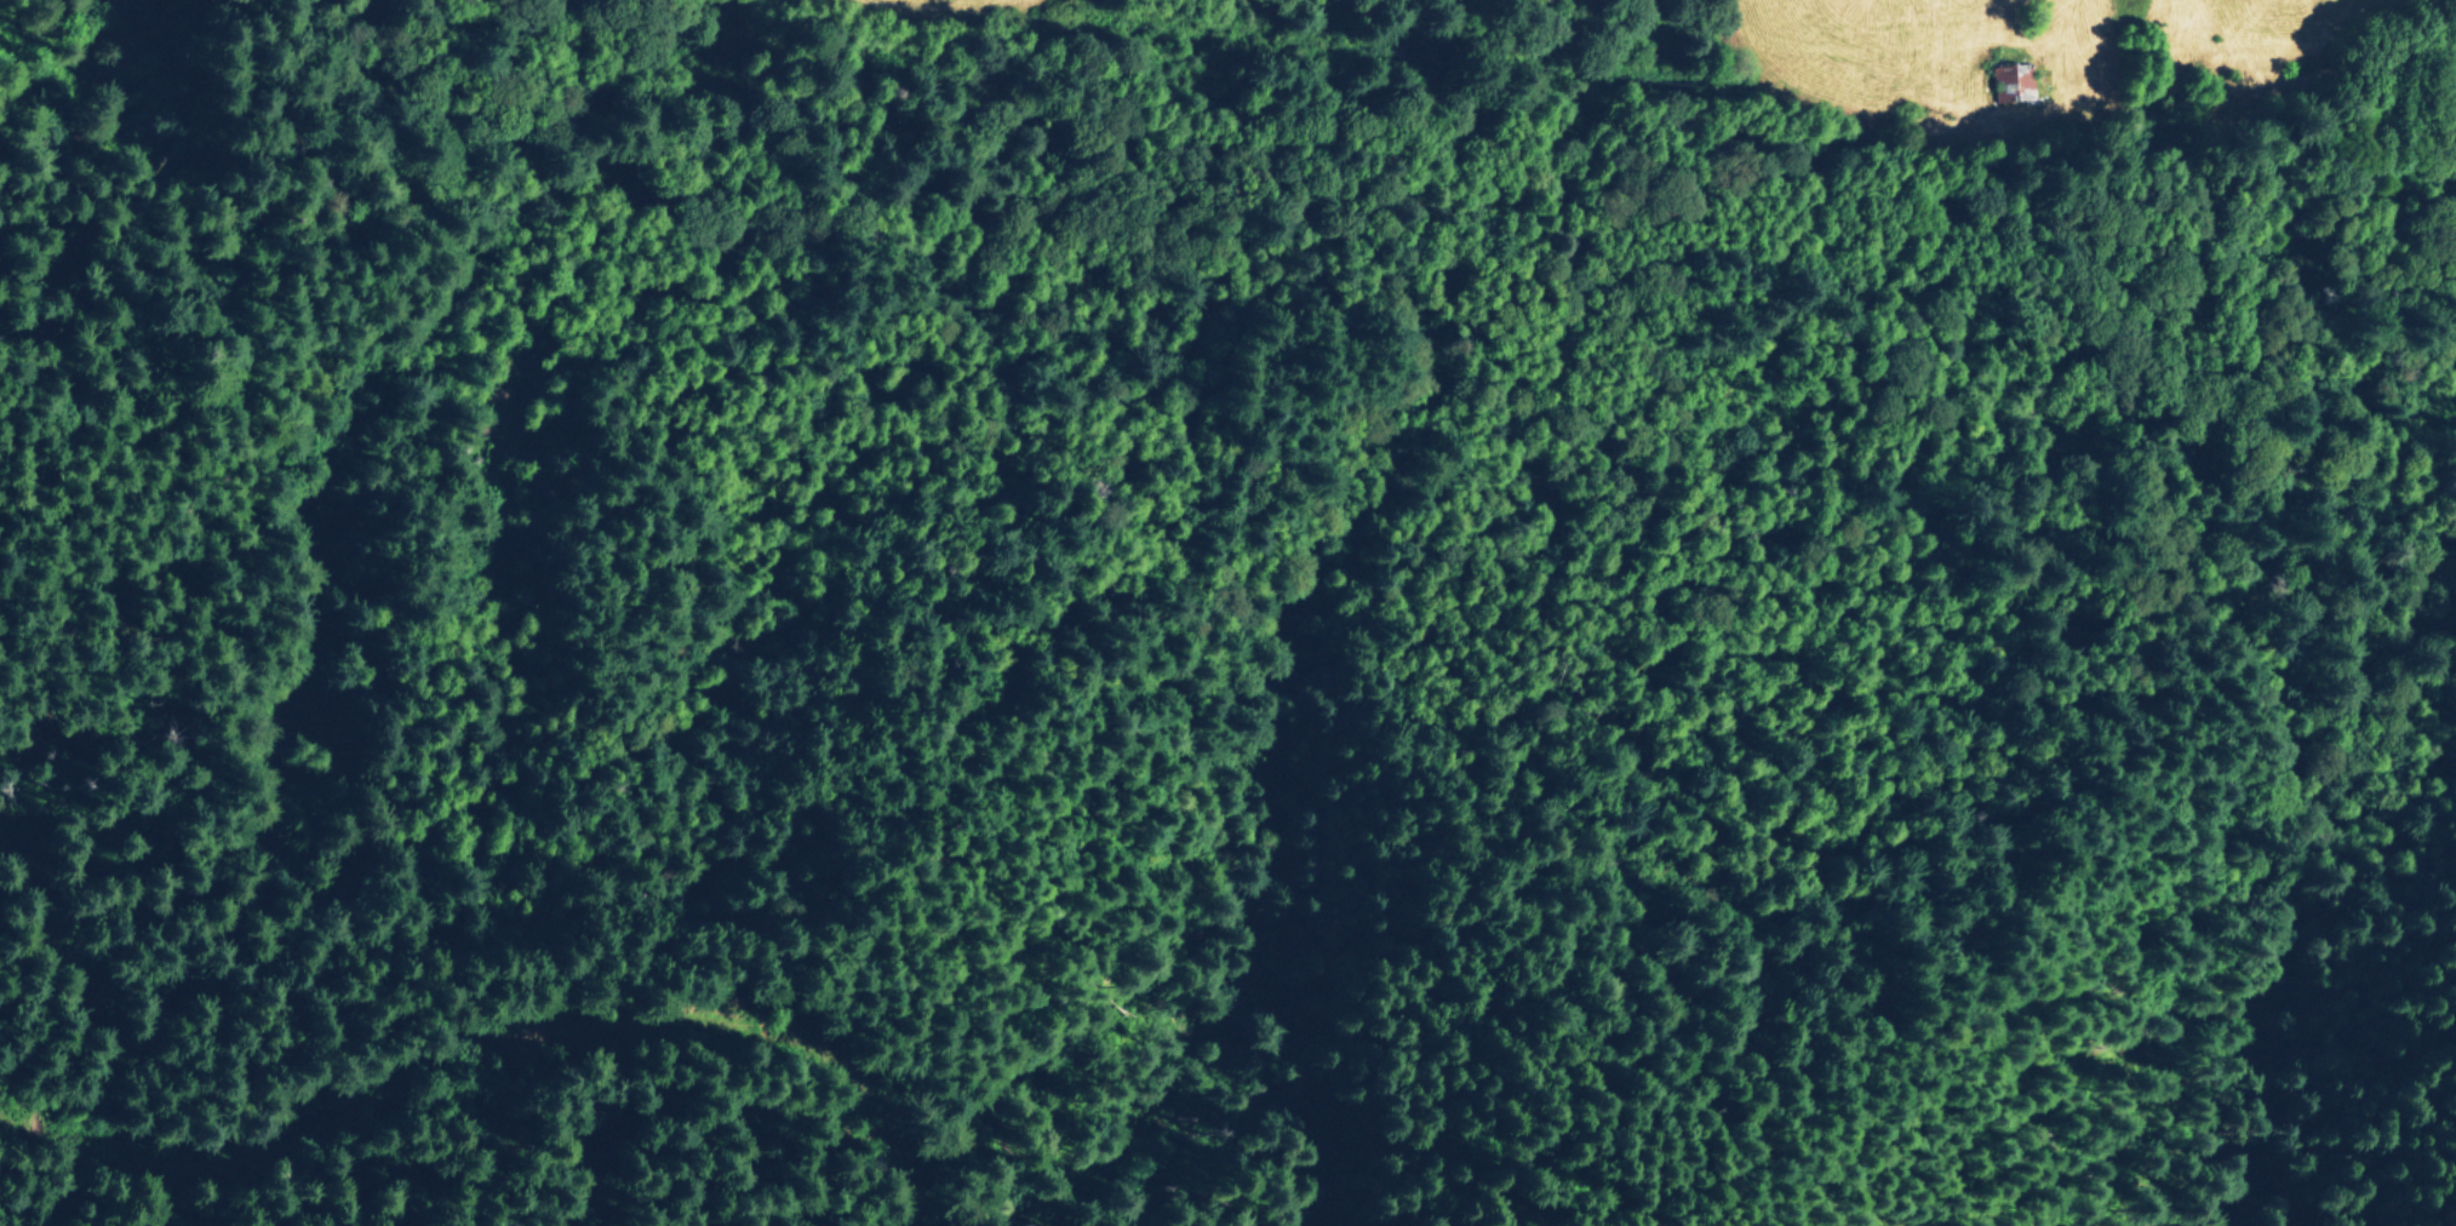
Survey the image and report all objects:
road: (1202, 317)
road: (485, 1044)
road: (702, 1204)

